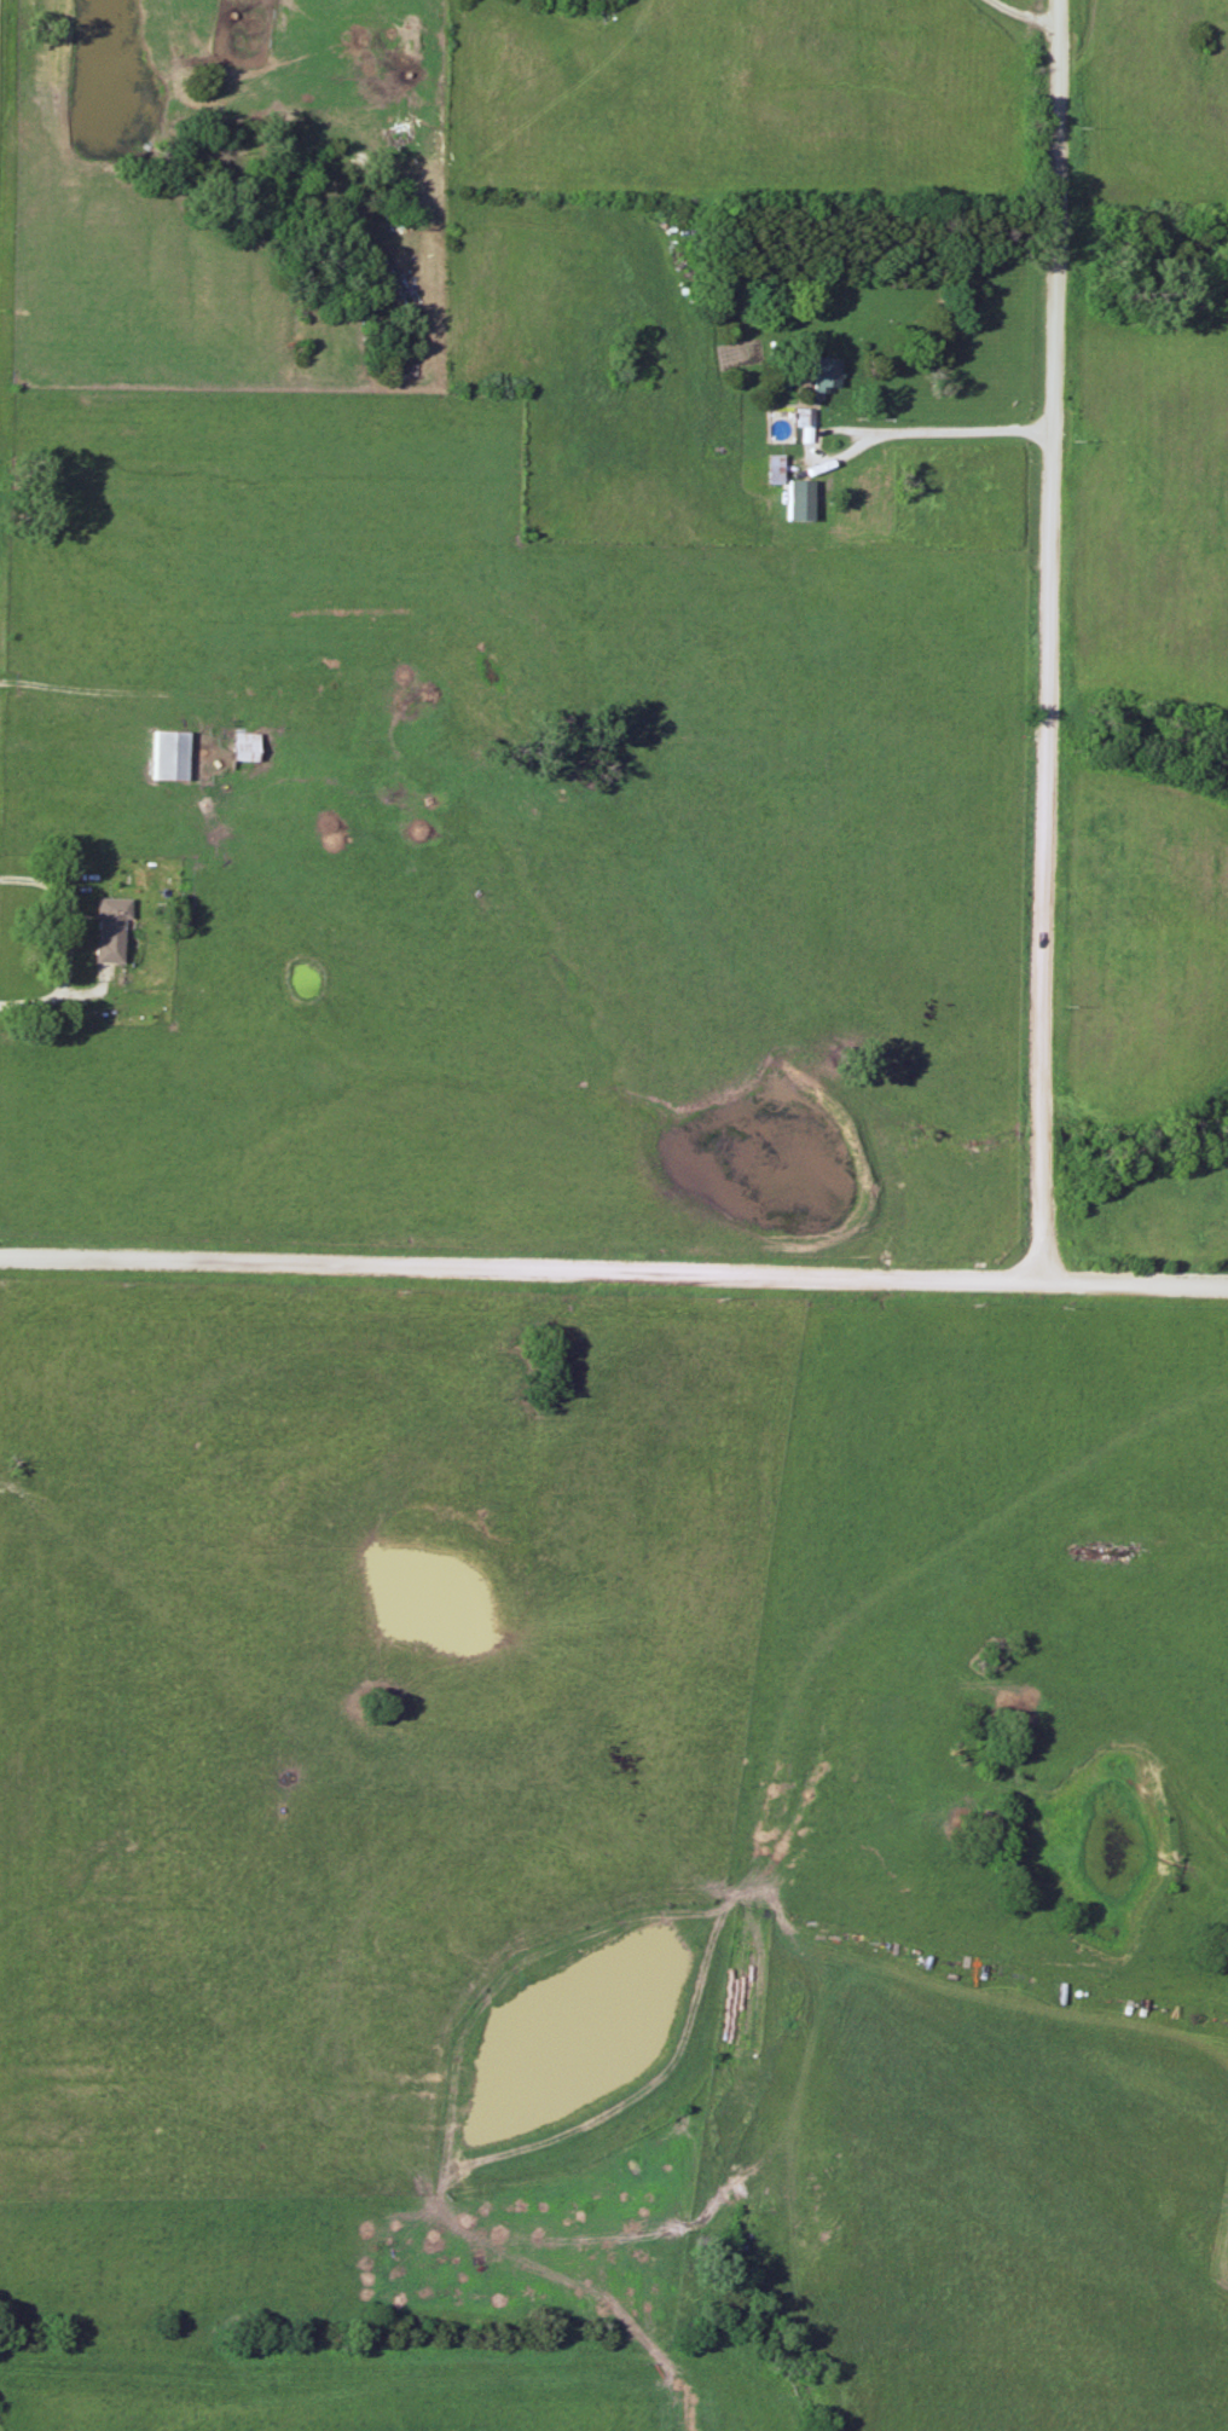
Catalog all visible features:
road: (1026, 11)
building: (826, 375)
building: (805, 418)
road: (829, 430)
road: (980, 430)
building: (775, 467)
building: (800, 500)
road: (1052, 642)
road: (27, 685)
road: (202, 748)
building: (242, 751)
building: (167, 754)
building: (109, 927)
road: (70, 944)
road: (613, 1274)

